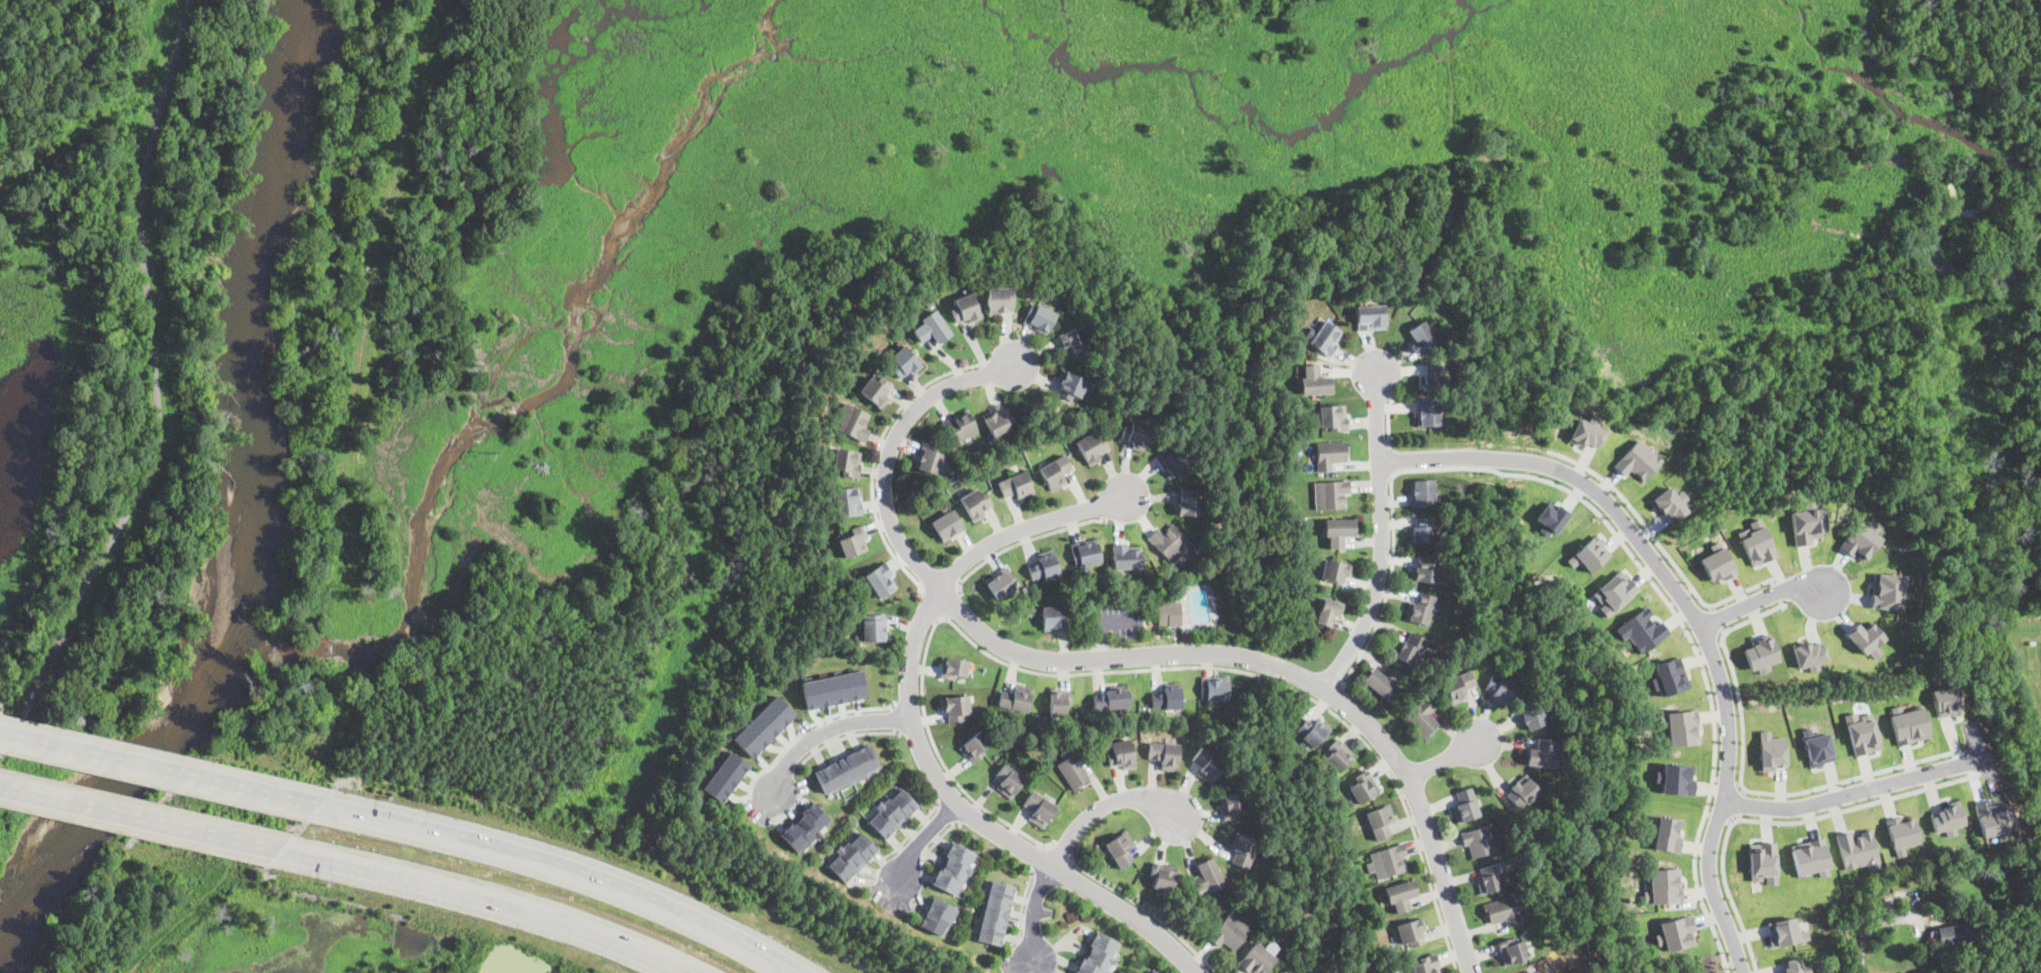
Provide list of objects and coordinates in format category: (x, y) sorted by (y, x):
river: (288, 48)
building: (1000, 300)
building: (966, 309)
building: (1371, 317)
building: (1038, 318)
building: (932, 329)
building: (1290, 330)
building: (1420, 335)
building: (1326, 340)
building: (1073, 342)
building: (904, 363)
park: (126, 377)
building: (1433, 379)
building: (1315, 382)
building: (1071, 386)
building: (876, 390)
road: (157, 393)
building: (1447, 407)
building: (1473, 410)
building: (1429, 413)
building: (1333, 419)
road: (1389, 419)
building: (851, 423)
building: (999, 423)
building: (959, 428)
building: (1586, 433)
building: (1136, 435)
building: (1091, 449)
building: (1331, 455)
road: (875, 456)
building: (929, 460)
building: (1637, 460)
building: (1172, 461)
road: (1391, 461)
building: (845, 463)
building: (1056, 472)
building: (953, 474)
building: (1017, 486)
building: (1422, 493)
building: (1331, 494)
building: (849, 502)
building: (1189, 503)
building: (976, 504)
building: (1669, 504)
road: (1393, 518)
building: (1552, 518)
building: (1807, 525)
building: (948, 526)
building: (1422, 531)
building: (1339, 532)
road: (1381, 536)
road: (1637, 538)
building: (1860, 541)
building: (852, 542)
building: (1169, 543)
building: (1756, 543)
road: (1021, 544)
river: (237, 548)
road: (1663, 548)
building: (1086, 554)
building: (1590, 554)
building: (1126, 557)
building: (1717, 564)
park: (595, 566)
building: (1044, 566)
building: (1336, 572)
building: (1426, 572)
building: (880, 581)
building: (1001, 584)
building: (1887, 590)
building: (1614, 592)
road: (1777, 593)
road: (1680, 596)
road: (1761, 598)
road: (931, 605)
road: (955, 608)
building: (1420, 610)
building: (1328, 611)
building: (1169, 614)
building: (1056, 619)
road: (1718, 620)
road: (1119, 621)
building: (874, 628)
building: (1642, 630)
building: (1865, 636)
road: (1099, 641)
road: (1709, 643)
building: (1414, 650)
building: (1761, 653)
building: (1809, 654)
road: (1127, 657)
building: (954, 669)
building: (1670, 676)
building: (1382, 682)
road: (1281, 683)
building: (1215, 687)
building: (1458, 687)
building: (834, 688)
building: (1499, 689)
road: (1709, 691)
building: (1167, 698)
road: (1337, 698)
building: (1016, 699)
building: (1112, 699)
building: (1946, 700)
building: (1059, 702)
road: (909, 707)
building: (956, 708)
road: (851, 710)
building: (1532, 717)
road: (895, 718)
building: (1422, 720)
building: (1908, 724)
building: (763, 725)
building: (1681, 727)
building: (1312, 729)
road: (825, 730)
road: (913, 730)
building: (1861, 732)
road: (846, 736)
road: (919, 739)
building: (974, 747)
building: (1817, 747)
building: (1772, 751)
building: (1121, 755)
building: (1541, 755)
building: (1165, 756)
building: (1337, 757)
road: (939, 758)
road: (1447, 759)
road: (769, 765)
building: (1207, 765)
building: (847, 768)
road: (162, 769)
building: (1074, 769)
building: (725, 775)
building: (1678, 779)
road: (1727, 780)
building: (1009, 782)
building: (1363, 787)
road: (1743, 788)
road: (1855, 791)
building: (1522, 792)
road: (1110, 805)
road: (1742, 805)
building: (1232, 806)
building: (1465, 806)
building: (1039, 809)
building: (893, 811)
road: (948, 813)
road: (141, 817)
road: (1719, 817)
building: (1993, 817)
building: (1946, 819)
building: (1381, 822)
road: (1777, 822)
building: (803, 826)
road: (914, 831)
building: (1667, 834)
building: (1901, 834)
road: (941, 839)
building: (1481, 841)
road: (921, 843)
building: (1243, 849)
building: (1857, 849)
building: (1120, 850)
road: (1060, 852)
building: (852, 855)
building: (1810, 857)
road: (1039, 859)
building: (1388, 861)
building: (1763, 862)
park: (3, 866)
building: (954, 868)
road: (564, 875)
building: (1493, 876)
building: (1206, 877)
building: (1163, 878)
building: (1663, 884)
road: (1712, 888)
building: (1401, 896)
road: (485, 904)
road: (1023, 907)
road: (1144, 911)
building: (995, 912)
building: (1503, 912)
road: (1038, 913)
building: (939, 915)
building: (1292, 916)
road: (1872, 929)
building: (1782, 931)
building: (1230, 932)
building: (1412, 933)
building: (1678, 933)
building: (1957, 934)
building: (1513, 950)
building: (1098, 954)
building: (1257, 960)
building: (1427, 965)
building: (1793, 965)
building: (1154, 971)
building: (1531, 972)

